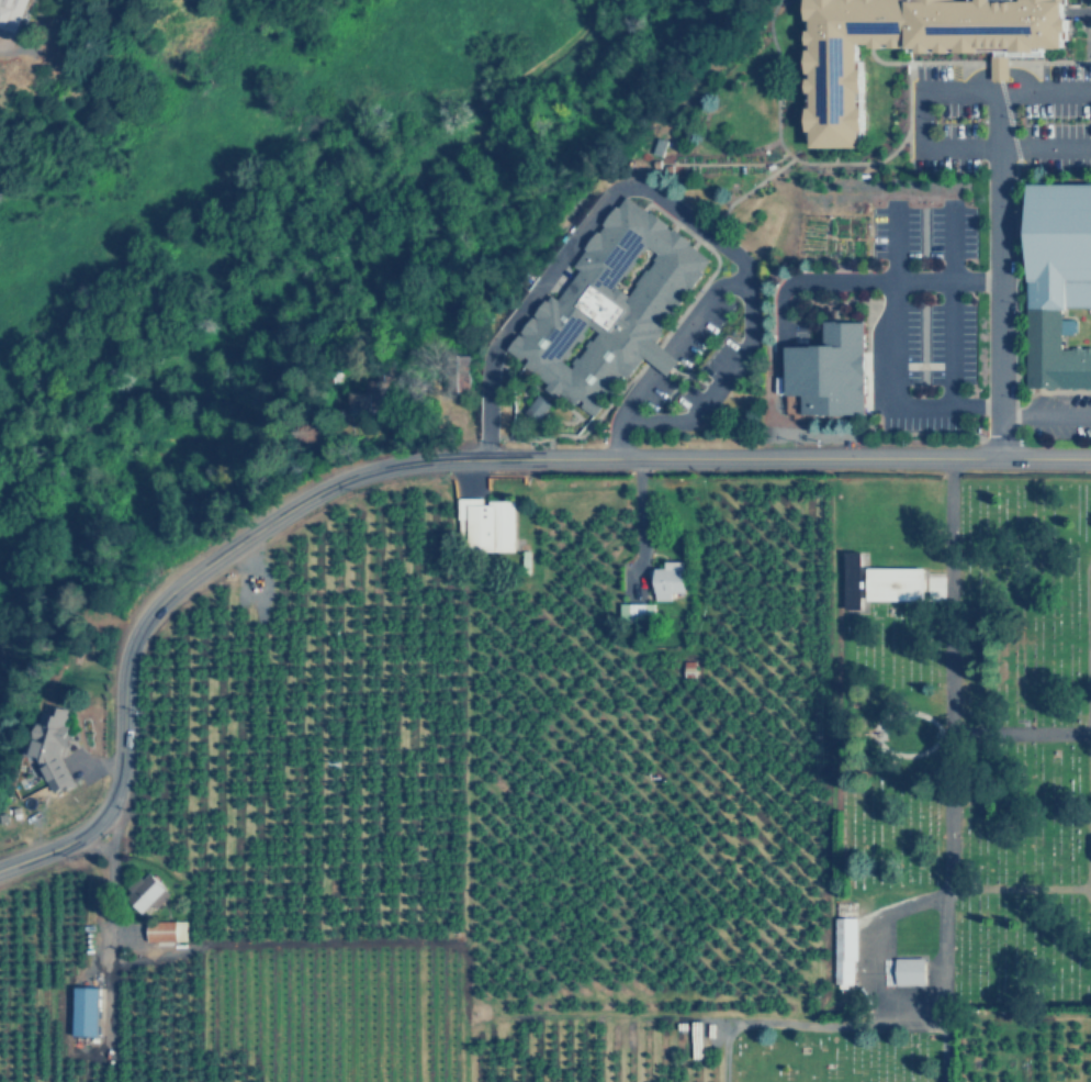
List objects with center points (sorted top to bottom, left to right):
building: (11, 13)
road: (545, 58)
road: (1002, 62)
building: (1000, 66)
building: (835, 97)
road: (908, 103)
road: (775, 135)
road: (943, 146)
road: (908, 150)
road: (722, 161)
road: (845, 163)
road: (653, 194)
road: (997, 228)
road: (861, 281)
building: (1057, 285)
road: (947, 305)
building: (609, 308)
road: (661, 354)
road: (892, 358)
building: (823, 369)
road: (1065, 391)
building: (359, 402)
building: (792, 404)
building: (537, 406)
road: (1044, 415)
road: (431, 459)
building: (482, 524)
road: (638, 527)
building: (836, 578)
building: (852, 579)
building: (664, 580)
building: (890, 583)
building: (935, 587)
building: (633, 612)
road: (1089, 640)
road: (1088, 721)
road: (983, 729)
park: (961, 739)
building: (50, 746)
road: (946, 748)
road: (1090, 824)
road: (109, 874)
building: (144, 890)
road: (1088, 900)
building: (162, 930)
building: (844, 951)
building: (910, 970)
road: (882, 990)
road: (941, 999)
building: (82, 1008)
road: (834, 1020)
park: (829, 1049)

